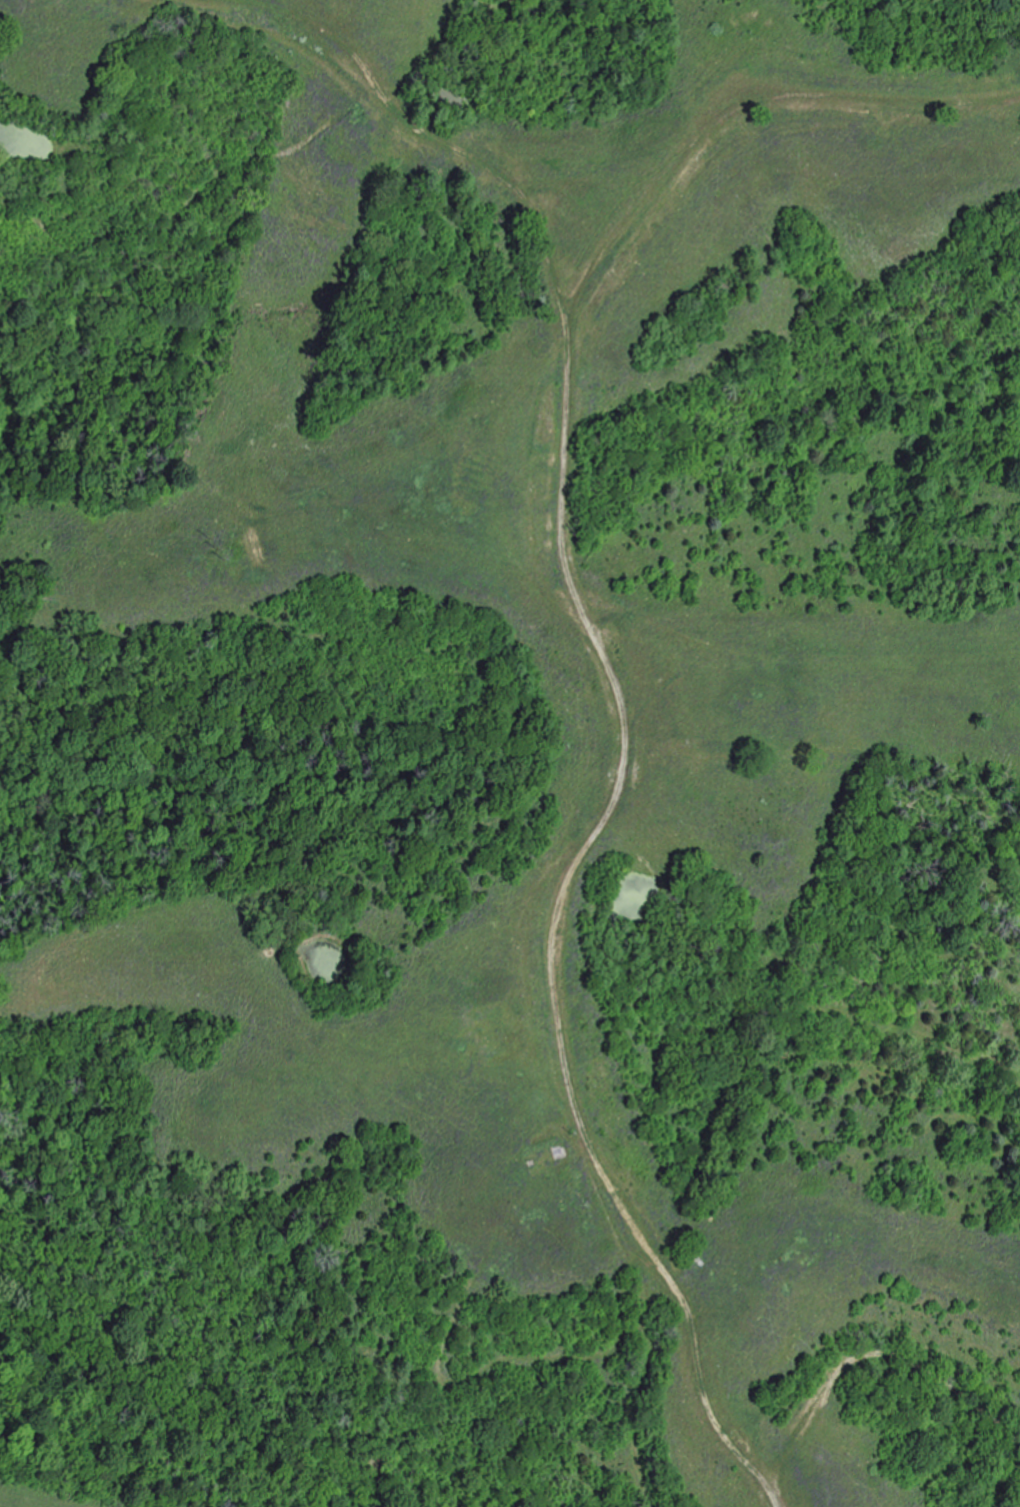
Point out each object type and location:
road: (612, 674)

